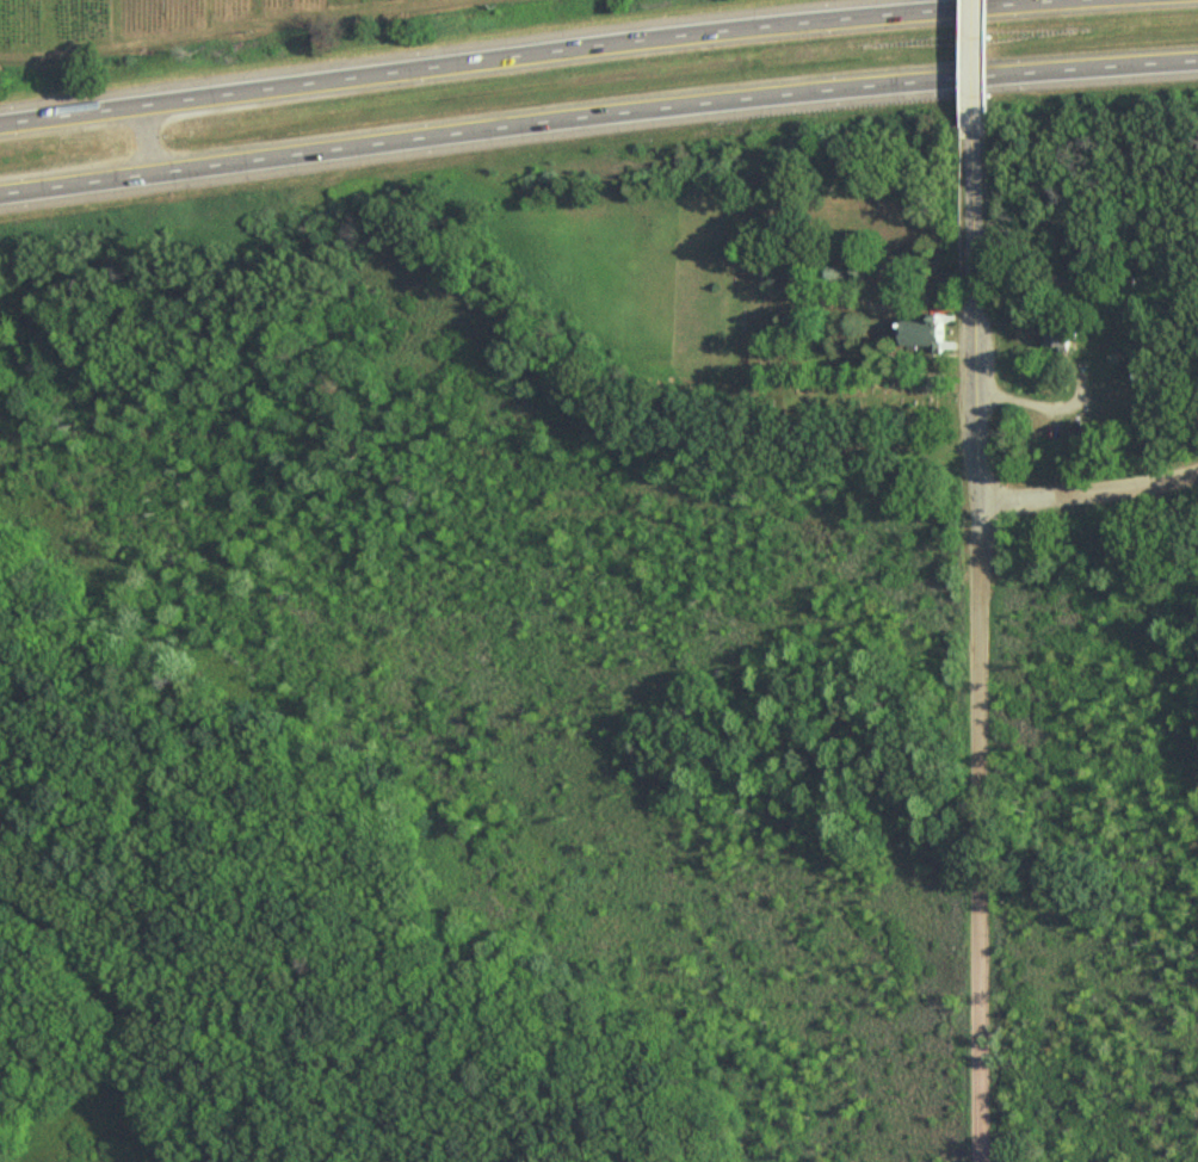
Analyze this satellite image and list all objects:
crop: (208, 19)
road: (526, 48)
road: (965, 64)
road: (597, 119)
road: (134, 142)
park: (724, 292)
road: (972, 317)
building: (926, 332)
building: (1061, 335)
road: (1042, 402)
building: (1079, 434)
road: (1088, 495)
road: (978, 834)

